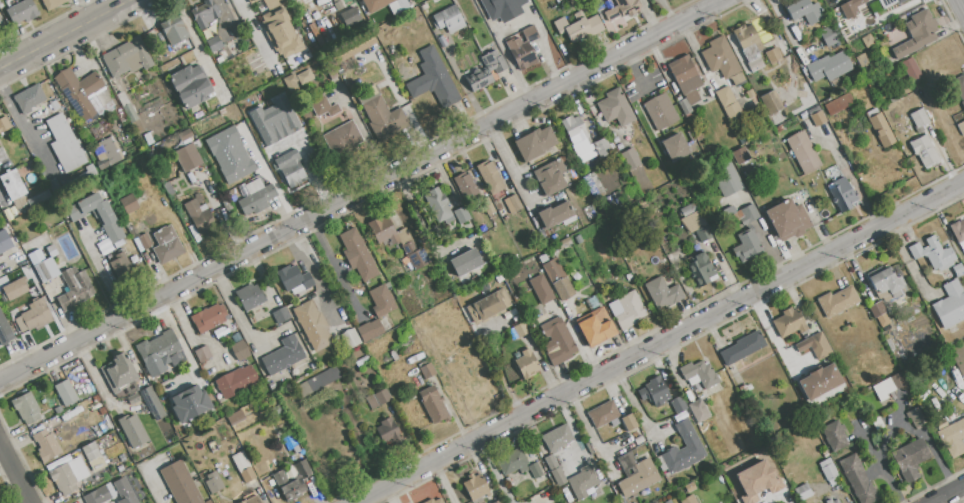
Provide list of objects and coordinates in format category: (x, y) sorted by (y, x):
building: (250, 1)
building: (900, 1)
building: (52, 3)
building: (881, 4)
building: (626, 6)
building: (502, 8)
building: (851, 8)
building: (396, 10)
building: (22, 11)
building: (804, 11)
building: (205, 13)
building: (612, 13)
building: (349, 16)
building: (447, 19)
building: (802, 25)
building: (2, 27)
building: (577, 28)
building: (174, 31)
building: (794, 31)
building: (281, 32)
road: (64, 33)
building: (530, 33)
building: (917, 33)
road: (254, 34)
building: (831, 35)
building: (867, 41)
building: (213, 43)
road: (197, 44)
building: (749, 46)
building: (354, 48)
building: (816, 48)
building: (520, 52)
building: (774, 56)
building: (127, 57)
building: (722, 61)
building: (862, 61)
building: (829, 67)
building: (911, 68)
road: (638, 69)
building: (485, 70)
building: (305, 77)
building: (686, 78)
building: (433, 79)
building: (191, 84)
building: (292, 84)
building: (959, 87)
building: (83, 93)
building: (893, 97)
building: (922, 97)
building: (29, 98)
building: (753, 98)
building: (771, 102)
building: (839, 103)
building: (729, 104)
building: (54, 105)
building: (685, 106)
building: (950, 106)
building: (126, 107)
building: (324, 107)
building: (615, 108)
building: (660, 111)
building: (813, 111)
building: (930, 113)
building: (381, 114)
building: (802, 116)
building: (817, 118)
building: (919, 118)
building: (274, 120)
building: (4, 125)
road: (26, 128)
building: (880, 128)
building: (961, 128)
building: (185, 135)
building: (290, 135)
building: (611, 135)
building: (692, 135)
building: (148, 139)
building: (615, 139)
building: (344, 140)
building: (205, 141)
building: (585, 141)
building: (535, 143)
building: (65, 144)
building: (619, 146)
building: (675, 146)
building: (199, 151)
building: (924, 151)
building: (803, 152)
building: (106, 153)
building: (2, 154)
building: (229, 154)
building: (740, 155)
building: (187, 157)
building: (630, 159)
building: (294, 172)
building: (724, 175)
building: (490, 176)
road: (851, 176)
building: (550, 177)
building: (13, 185)
building: (465, 185)
building: (593, 185)
building: (53, 186)
road: (361, 189)
building: (625, 190)
building: (841, 193)
building: (256, 197)
building: (20, 202)
building: (128, 203)
building: (512, 203)
building: (227, 204)
building: (438, 205)
building: (689, 209)
building: (502, 212)
building: (729, 212)
building: (461, 214)
building: (554, 214)
building: (744, 215)
building: (199, 217)
building: (107, 219)
building: (787, 219)
building: (692, 222)
building: (382, 230)
building: (703, 233)
building: (958, 233)
building: (139, 238)
building: (4, 241)
building: (547, 242)
building: (561, 244)
building: (166, 245)
building: (746, 246)
building: (52, 250)
building: (412, 250)
building: (932, 252)
building: (358, 254)
building: (36, 257)
building: (543, 258)
building: (465, 261)
building: (499, 261)
building: (118, 265)
road: (335, 267)
building: (957, 269)
building: (46, 270)
building: (699, 271)
road: (103, 273)
building: (31, 279)
building: (293, 279)
building: (557, 280)
building: (885, 280)
building: (61, 284)
building: (9, 286)
building: (483, 286)
building: (388, 287)
building: (541, 288)
building: (75, 289)
building: (662, 293)
building: (250, 297)
building: (381, 300)
building: (593, 302)
building: (837, 302)
building: (950, 305)
building: (488, 306)
building: (877, 309)
building: (629, 310)
building: (36, 315)
building: (281, 315)
building: (208, 317)
building: (882, 320)
building: (529, 321)
building: (788, 323)
building: (313, 325)
building: (595, 327)
building: (521, 329)
building: (6, 330)
building: (369, 330)
building: (404, 332)
building: (513, 336)
building: (236, 337)
building: (349, 338)
building: (557, 341)
road: (658, 342)
building: (816, 346)
building: (742, 348)
building: (240, 350)
building: (160, 353)
building: (202, 353)
building: (283, 355)
building: (362, 361)
building: (527, 363)
building: (312, 365)
road: (500, 370)
building: (427, 371)
building: (118, 373)
building: (699, 373)
building: (898, 380)
building: (236, 381)
building: (819, 381)
building: (318, 382)
building: (887, 385)
building: (271, 386)
building: (745, 388)
building: (654, 391)
building: (712, 391)
building: (879, 391)
building: (65, 393)
building: (382, 396)
building: (185, 397)
building: (132, 398)
building: (371, 401)
building: (152, 403)
building: (433, 404)
building: (677, 404)
building: (26, 408)
building: (275, 410)
building: (699, 410)
building: (603, 414)
building: (950, 417)
building: (235, 418)
building: (916, 418)
building: (50, 422)
building: (628, 422)
building: (877, 424)
building: (940, 424)
road: (897, 426)
building: (37, 429)
building: (387, 429)
building: (132, 430)
building: (835, 435)
building: (557, 437)
building: (953, 437)
building: (638, 440)
building: (46, 445)
road: (867, 445)
building: (296, 449)
building: (682, 449)
building: (90, 452)
building: (910, 458)
building: (512, 462)
building: (551, 463)
building: (97, 464)
building: (243, 467)
building: (119, 468)
building: (302, 469)
building: (827, 469)
building: (535, 470)
road: (15, 473)
building: (816, 473)
building: (635, 474)
building: (68, 475)
building: (558, 477)
building: (754, 478)
building: (858, 479)
building: (583, 481)
building: (213, 482)
building: (798, 482)
building: (180, 483)
building: (691, 485)
building: (289, 486)
building: (475, 487)
road: (963, 489)
building: (805, 490)
building: (123, 491)
road: (947, 494)
building: (96, 495)
road: (160, 498)
building: (249, 499)
building: (687, 499)
building: (435, 500)
building: (499, 501)
building: (831, 501)

